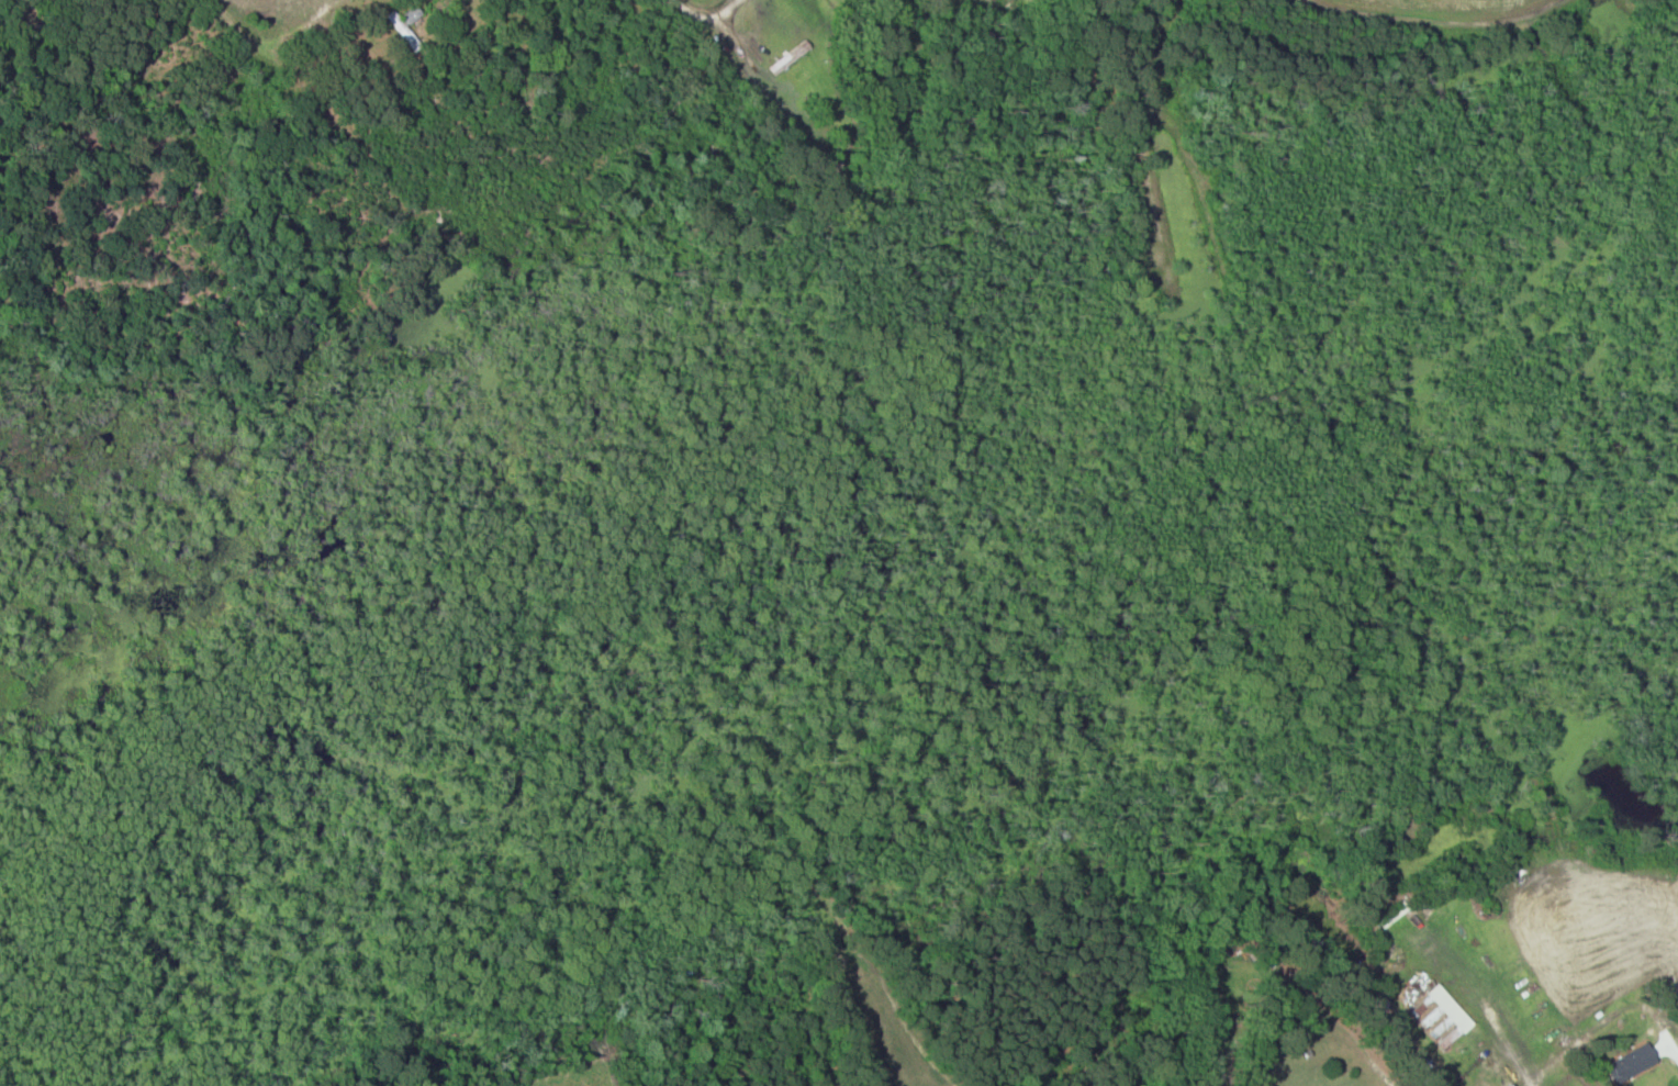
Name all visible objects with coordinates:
building: (405, 26)
building: (1391, 916)
building: (1451, 1009)
building: (1428, 1020)
building: (1632, 1064)
building: (1512, 1085)

